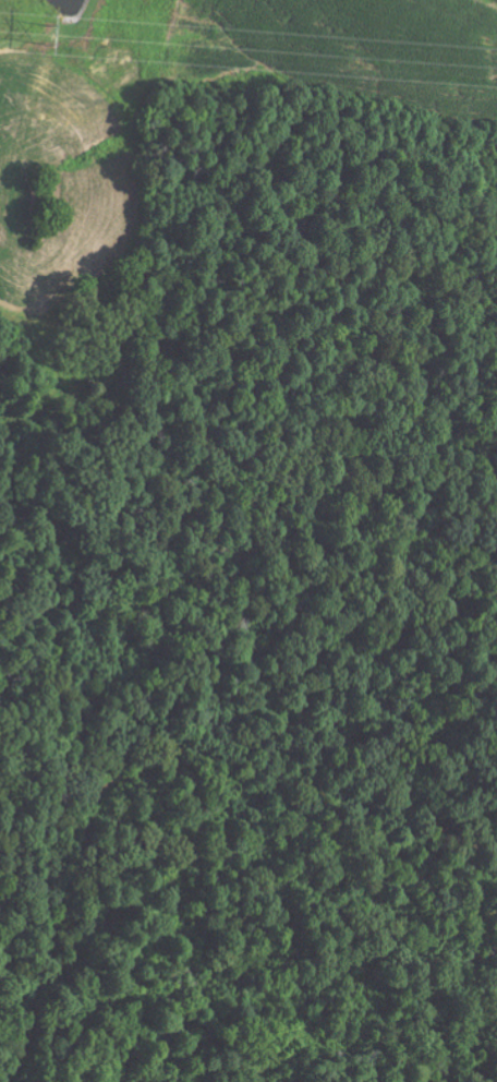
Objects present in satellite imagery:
power tower: (44, 34)

